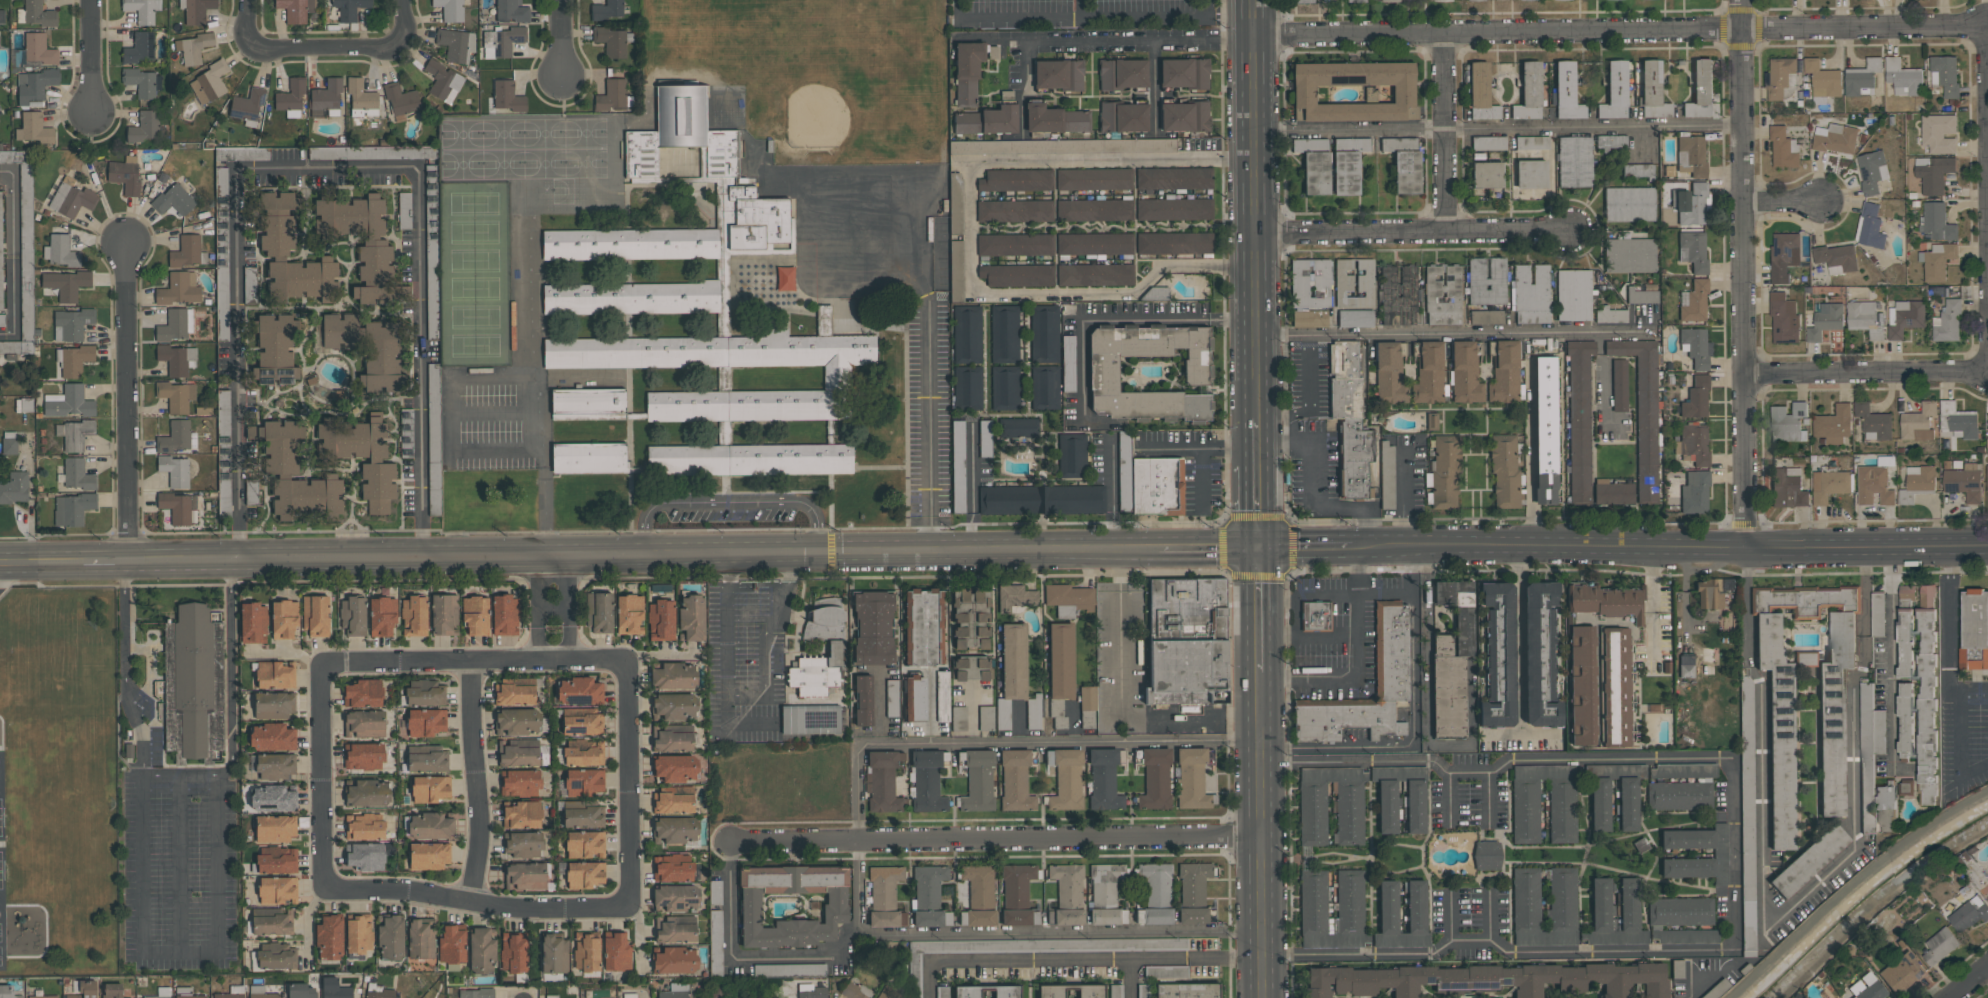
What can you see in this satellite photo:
building: (1389, 0)
building: (1441, 0)
building: (1475, 0)
building: (1526, 0)
building: (1561, 0)
building: (1304, 1)
building: (1355, 1)
road: (1208, 8)
building: (349, 9)
building: (142, 10)
building: (196, 10)
building: (295, 10)
building: (450, 10)
building: (607, 10)
road: (1082, 10)
building: (511, 12)
building: (35, 14)
building: (2, 16)
road: (1095, 19)
road: (1618, 31)
road: (561, 38)
building: (509, 40)
building: (612, 41)
road: (1115, 41)
road: (324, 45)
building: (456, 45)
building: (0, 47)
building: (140, 48)
building: (193, 48)
building: (993, 52)
road: (90, 56)
building: (967, 73)
building: (1184, 73)
building: (1059, 74)
building: (1123, 74)
building: (1945, 75)
building: (1779, 77)
building: (1862, 77)
building: (1903, 78)
building: (1824, 80)
building: (443, 81)
park: (857, 81)
building: (140, 82)
building: (209, 83)
road: (1021, 83)
building: (35, 86)
road: (1155, 86)
building: (1567, 90)
building: (1354, 91)
building: (1615, 91)
building: (1653, 91)
building: (1529, 92)
building: (1702, 92)
building: (1481, 93)
building: (507, 96)
building: (611, 96)
building: (291, 99)
building: (326, 99)
building: (362, 99)
building: (401, 100)
building: (247, 105)
building: (0, 112)
road: (1986, 113)
building: (1123, 117)
building: (1185, 117)
building: (1055, 119)
building: (987, 121)
building: (145, 126)
road: (1497, 128)
building: (34, 129)
road: (1445, 132)
building: (1939, 134)
building: (1835, 139)
building: (1488, 143)
building: (1531, 143)
building: (1611, 143)
building: (1062, 146)
park: (523, 148)
building: (1784, 149)
building: (242, 153)
building: (349, 153)
building: (1691, 155)
building: (1575, 161)
building: (1405, 163)
building: (1314, 164)
building: (1348, 164)
road: (325, 167)
building: (1638, 171)
building: (1872, 171)
building: (125, 174)
building: (1487, 174)
building: (1531, 174)
building: (1933, 174)
building: (1174, 178)
building: (1094, 179)
building: (221, 180)
building: (1016, 180)
building: (70, 198)
building: (173, 200)
road: (1781, 200)
building: (955, 203)
building: (1630, 204)
building: (1693, 204)
road: (1256, 207)
building: (404, 209)
building: (1174, 209)
building: (1015, 211)
building: (1937, 222)
building: (1870, 227)
road: (1412, 233)
road: (969, 237)
building: (277, 243)
building: (1175, 243)
building: (1094, 244)
building: (1015, 245)
building: (630, 246)
building: (374, 250)
building: (1693, 250)
building: (60, 251)
building: (23, 252)
building: (187, 252)
road: (13, 254)
building: (1629, 255)
building: (1784, 255)
building: (1, 256)
building: (1837, 259)
building: (1938, 261)
building: (956, 271)
road: (1742, 271)
building: (1017, 275)
building: (1095, 275)
park: (477, 276)
building: (785, 279)
building: (1365, 281)
building: (1487, 281)
building: (1310, 283)
building: (66, 284)
building: (250, 285)
building: (179, 289)
building: (1157, 293)
building: (1532, 293)
building: (1399, 294)
building: (1443, 294)
building: (1574, 295)
building: (1643, 297)
building: (631, 300)
building: (1694, 302)
building: (1610, 314)
building: (1486, 316)
building: (1905, 317)
building: (1356, 318)
building: (823, 319)
building: (1310, 319)
building: (1866, 319)
building: (2, 320)
building: (1784, 320)
road: (1117, 321)
building: (1824, 322)
building: (1948, 322)
building: (72, 324)
building: (175, 325)
building: (1044, 333)
building: (967, 334)
building: (1004, 334)
road: (1452, 334)
building: (318, 335)
building: (368, 347)
building: (1696, 347)
building: (277, 349)
building: (177, 359)
building: (75, 360)
building: (1068, 363)
building: (1104, 370)
building: (1389, 372)
building: (1429, 373)
building: (1465, 373)
building: (1505, 373)
road: (1866, 374)
building: (836, 380)
building: (1620, 385)
building: (1045, 386)
building: (967, 387)
building: (1005, 387)
road: (1602, 388)
building: (177, 396)
road: (1308, 397)
building: (1696, 398)
building: (69, 402)
road: (127, 403)
building: (586, 406)
road: (928, 410)
building: (433, 413)
building: (1643, 413)
building: (1987, 416)
building: (1349, 418)
building: (1580, 420)
building: (1958, 420)
building: (1788, 423)
building: (1874, 423)
building: (1918, 423)
building: (1834, 425)
building: (223, 428)
building: (1017, 429)
building: (1546, 430)
building: (74, 434)
building: (176, 437)
building: (985, 438)
road: (1259, 440)
building: (9, 442)
building: (1694, 442)
building: (280, 444)
road: (1197, 445)
road: (1314, 446)
building: (360, 452)
building: (1071, 456)
building: (587, 459)
road: (1530, 461)
building: (749, 462)
road: (972, 468)
road: (541, 469)
building: (1445, 469)
building: (175, 470)
building: (959, 470)
building: (1505, 471)
building: (78, 474)
road: (1112, 476)
building: (1387, 476)
building: (1987, 477)
road: (1201, 478)
building: (1963, 480)
building: (1917, 483)
building: (1152, 485)
building: (1788, 486)
building: (1874, 486)
building: (15, 487)
building: (224, 487)
building: (1613, 491)
building: (251, 493)
building: (1695, 493)
building: (307, 494)
road: (1404, 495)
road: (731, 505)
building: (176, 507)
building: (378, 507)
road: (1259, 507)
building: (72, 509)
road: (1112, 531)
road: (968, 533)
road: (928, 535)
road: (1670, 544)
road: (1306, 548)
traffic signals: (1260, 549)
road: (1209, 550)
road: (854, 554)
road: (394, 559)
road: (41, 562)
road: (105, 562)
road: (183, 562)
road: (550, 568)
road: (8, 571)
road: (942, 576)
road: (565, 590)
road: (539, 591)
building: (1712, 592)
building: (1907, 594)
road: (1325, 595)
road: (1384, 595)
building: (1068, 598)
road: (1653, 600)
building: (1604, 601)
road: (1949, 605)
road: (1261, 610)
road: (552, 611)
building: (600, 611)
building: (1879, 613)
building: (444, 614)
building: (630, 614)
building: (353, 615)
building: (476, 615)
building: (505, 615)
road: (800, 615)
building: (316, 616)
building: (414, 616)
building: (692, 616)
road: (1295, 616)
building: (1316, 616)
building: (382, 617)
building: (971, 618)
building: (284, 619)
building: (661, 620)
building: (254, 623)
building: (925, 626)
building: (874, 628)
building: (1974, 629)
road: (1326, 635)
road: (540, 636)
road: (566, 636)
building: (1186, 640)
road: (1520, 640)
building: (1905, 643)
building: (837, 647)
building: (1499, 656)
building: (1540, 656)
road: (1893, 656)
road: (1356, 657)
road: (594, 658)
road: (436, 659)
building: (1061, 660)
building: (1453, 664)
building: (1394, 666)
building: (1686, 666)
building: (972, 668)
building: (274, 675)
building: (674, 676)
building: (1013, 679)
building: (1582, 685)
building: (194, 686)
building: (1616, 687)
road: (1973, 690)
building: (579, 691)
building: (363, 693)
building: (424, 693)
road: (750, 694)
building: (516, 695)
building: (943, 696)
building: (1927, 696)
building: (892, 697)
building: (863, 700)
building: (274, 705)
building: (674, 706)
road: (1121, 706)
building: (1088, 707)
road: (1428, 708)
building: (1034, 712)
building: (986, 718)
building: (811, 719)
building: (960, 719)
building: (518, 721)
road: (1414, 721)
building: (1906, 721)
building: (426, 722)
building: (364, 724)
building: (582, 724)
building: (1854, 726)
road: (1959, 734)
building: (272, 737)
building: (1870, 737)
building: (672, 741)
building: (585, 754)
building: (518, 755)
building: (364, 756)
building: (1782, 757)
building: (427, 759)
building: (275, 766)
building: (676, 767)
building: (1683, 770)
road: (183, 775)
road: (320, 775)
building: (1066, 778)
building: (1156, 779)
building: (1192, 779)
building: (978, 780)
building: (1104, 780)
road: (475, 781)
building: (584, 781)
building: (883, 781)
building: (1016, 781)
building: (520, 783)
building: (430, 788)
road: (628, 788)
building: (1906, 788)
building: (368, 793)
building: (1680, 795)
building: (273, 799)
road: (1493, 799)
road: (1447, 800)
building: (674, 803)
building: (574, 804)
building: (1600, 804)
building: (1629, 804)
building: (1349, 807)
building: (1416, 807)
building: (1886, 809)
building: (1526, 811)
building: (523, 815)
building: (1747, 815)
building: (583, 817)
building: (430, 826)
building: (365, 827)
building: (276, 828)
building: (674, 830)
road: (1262, 834)
road: (856, 839)
road: (996, 841)
building: (524, 844)
building: (585, 844)
road: (1734, 852)
building: (1720, 853)
building: (429, 855)
building: (1487, 855)
building: (366, 857)
building: (277, 860)
building: (1809, 860)
building: (673, 868)
building: (585, 875)
building: (525, 876)
building: (1194, 881)
building: (1156, 882)
building: (928, 884)
building: (979, 884)
building: (1017, 884)
building: (1068, 884)
building: (1981, 885)
building: (278, 890)
building: (715, 892)
building: (1351, 893)
building: (1106, 895)
building: (885, 896)
building: (676, 898)
building: (1563, 899)
road: (474, 903)
building: (1602, 904)
building: (792, 905)
building: (1417, 906)
building: (1680, 911)
building: (1969, 914)
building: (1193, 915)
road: (1783, 915)
building: (1154, 916)
road: (1451, 916)
road: (1489, 916)
building: (1016, 917)
building: (1069, 917)
building: (1628, 917)
building: (932, 918)
building: (977, 918)
building: (272, 925)
building: (359, 933)
building: (676, 933)
building: (1684, 936)
building: (329, 938)
building: (391, 938)
building: (421, 939)
building: (715, 942)
building: (452, 945)
building: (1940, 946)
road: (178, 949)
building: (1030, 949)
building: (482, 951)
building: (514, 952)
building: (617, 952)
building: (587, 953)
building: (554, 954)
building: (274, 956)
road: (743, 958)
road: (1137, 958)
road: (1226, 958)
road: (1010, 960)
building: (675, 961)
building: (790, 969)
building: (1166, 971)
building: (1902, 972)
building: (1481, 979)
road: (1713, 980)
road: (1967, 980)
building: (1867, 988)
building: (83, 989)
building: (335, 989)
building: (112, 990)
building: (1187, 990)
building: (302, 991)
building: (675, 991)
building: (812, 991)
building: (855, 991)
building: (1051, 991)
building: (1091, 991)
building: (1116, 991)
building: (1143, 991)
building: (8, 992)
building: (261, 992)
building: (378, 992)
building: (942, 992)
building: (967, 992)
building: (1007, 992)
building: (161, 993)
building: (186, 993)
building: (231, 993)
building: (477, 993)
building: (715, 994)
building: (884, 994)
building: (628, 995)
building: (44, 996)
building: (551, 996)
building: (1840, 997)

